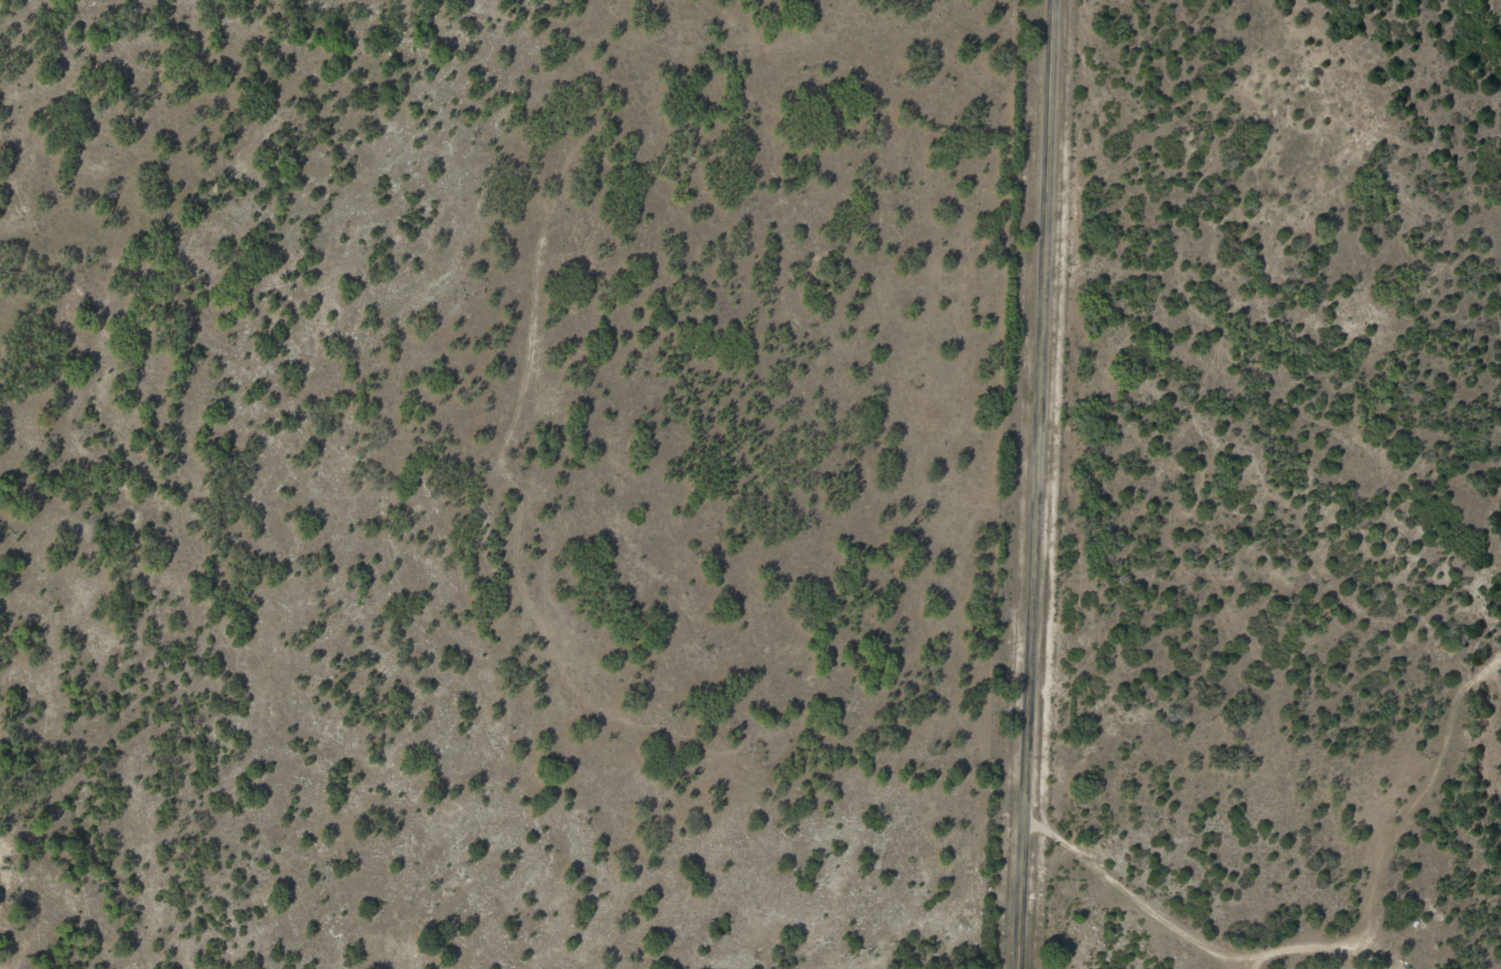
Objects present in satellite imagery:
road: (1039, 484)

